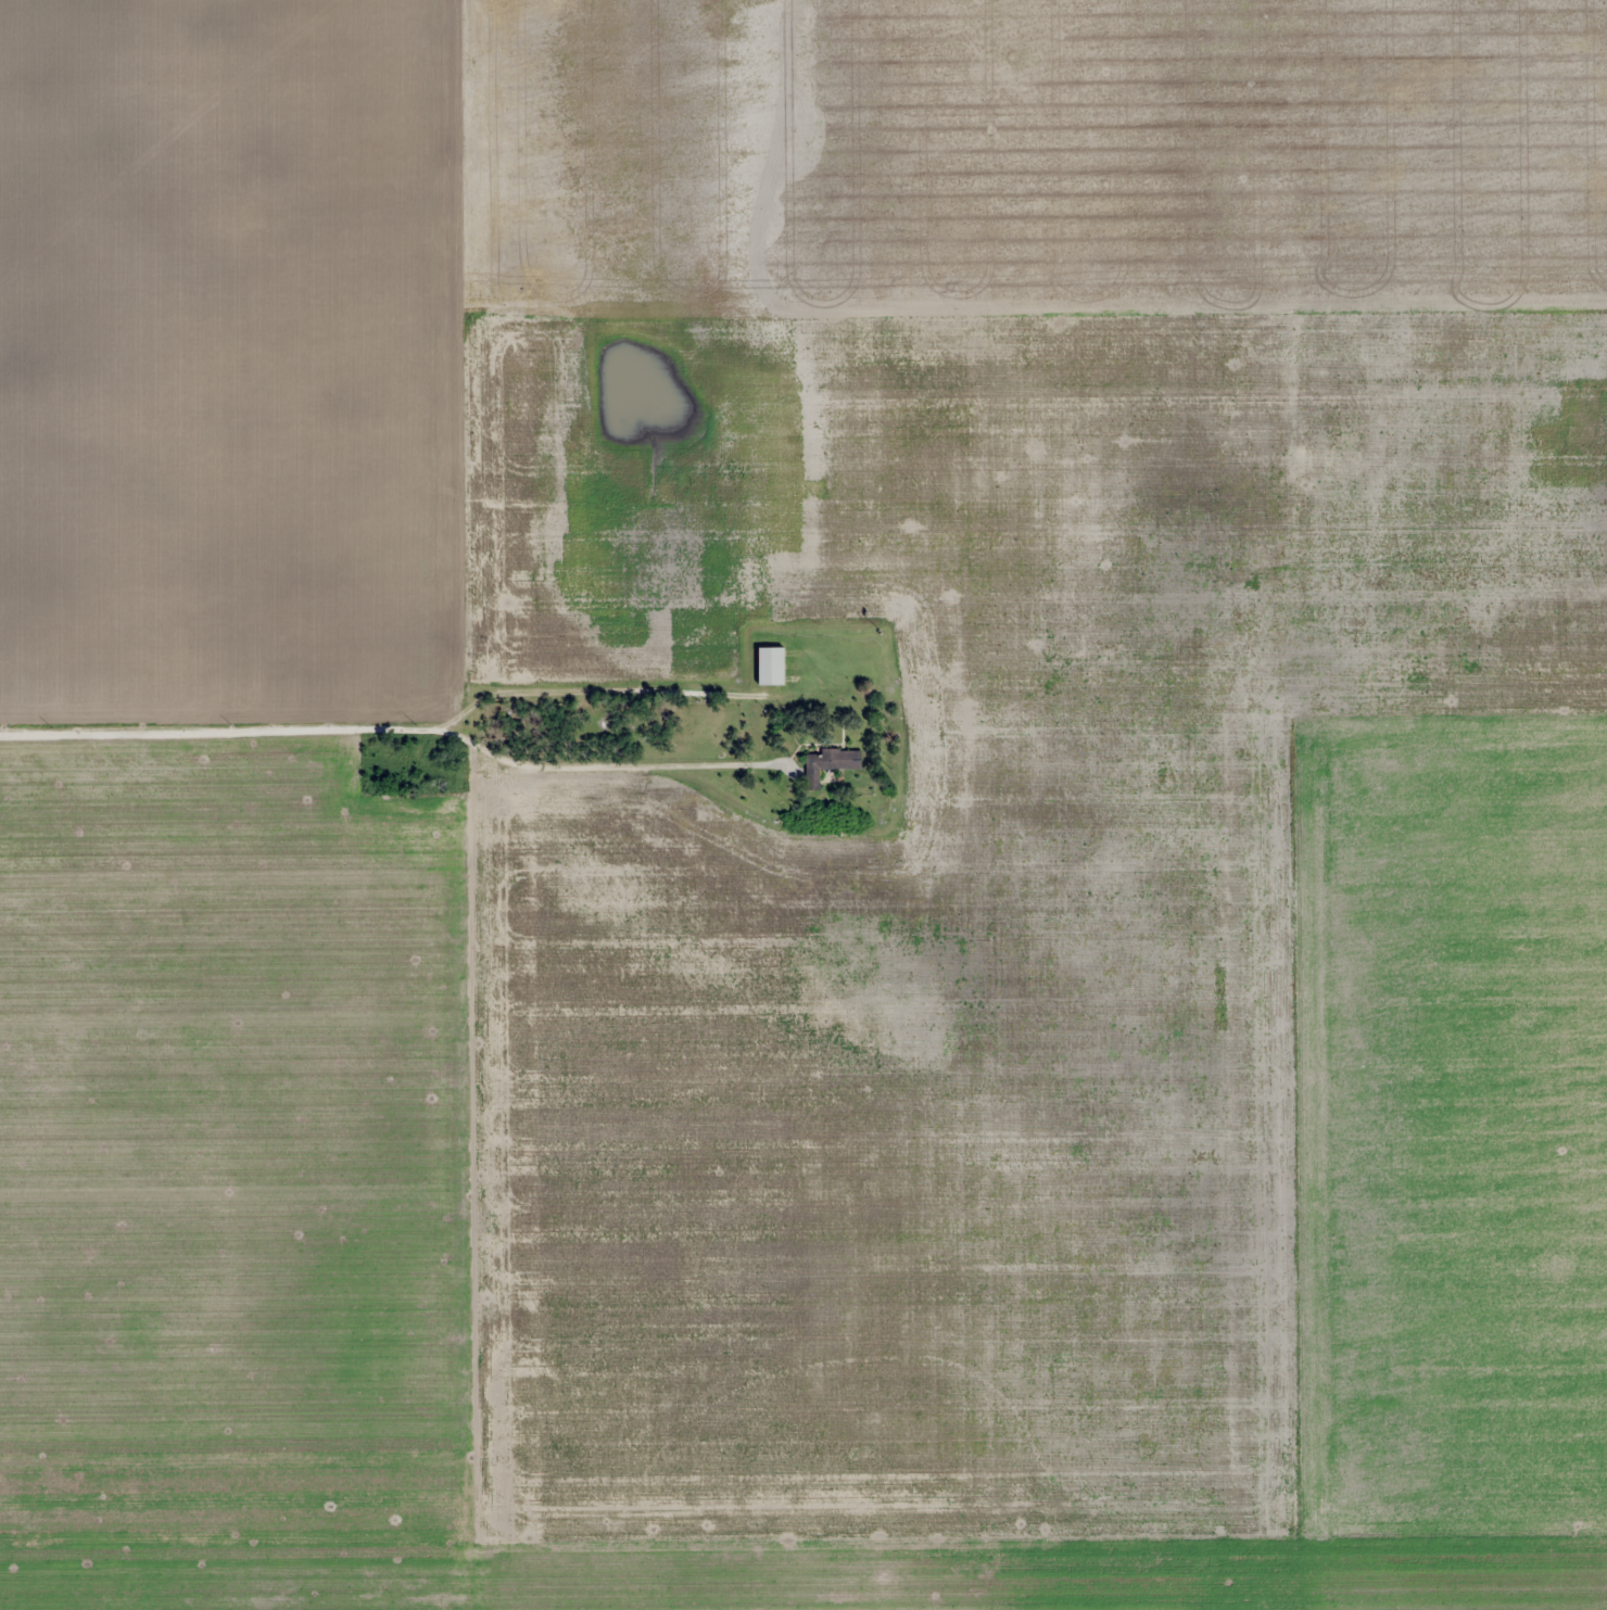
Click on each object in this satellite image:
road: (937, 694)
building: (830, 763)
road: (444, 1168)

